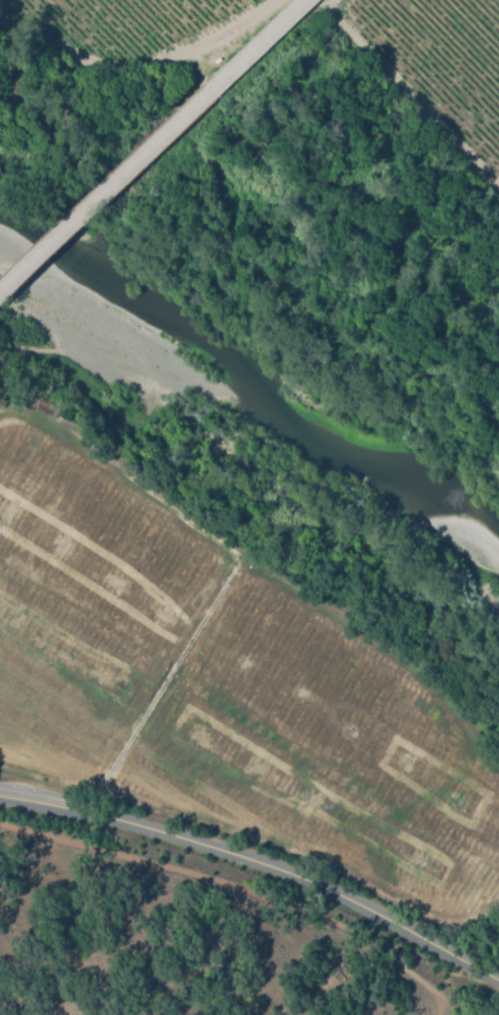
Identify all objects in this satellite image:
road: (155, 147)
building: (40, 355)
river: (261, 397)
road: (256, 869)

